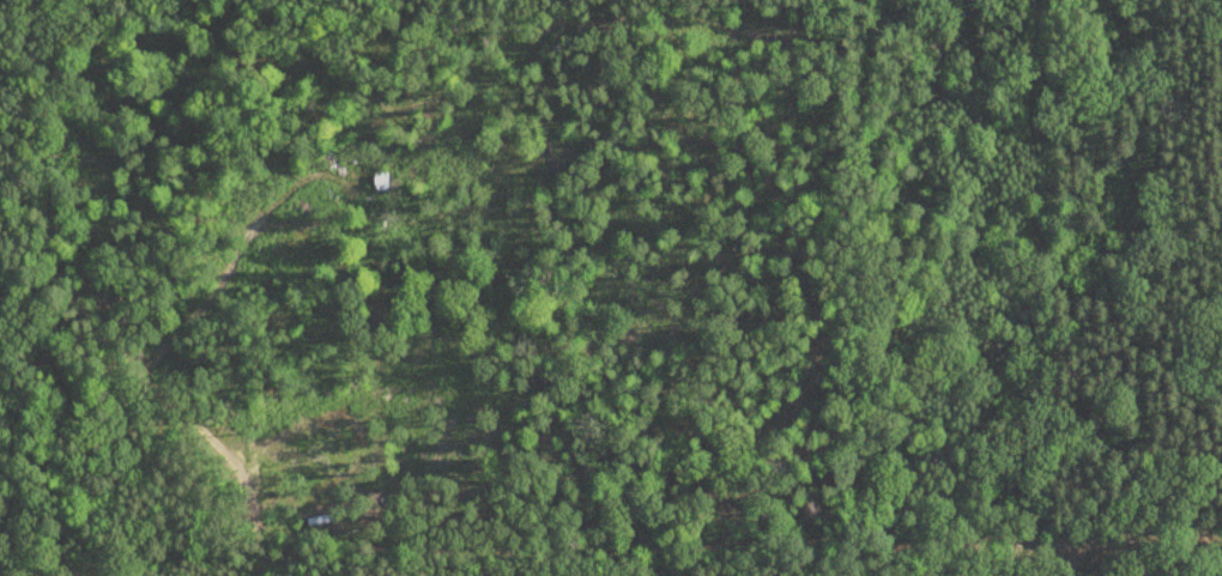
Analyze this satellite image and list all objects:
road: (92, 310)

